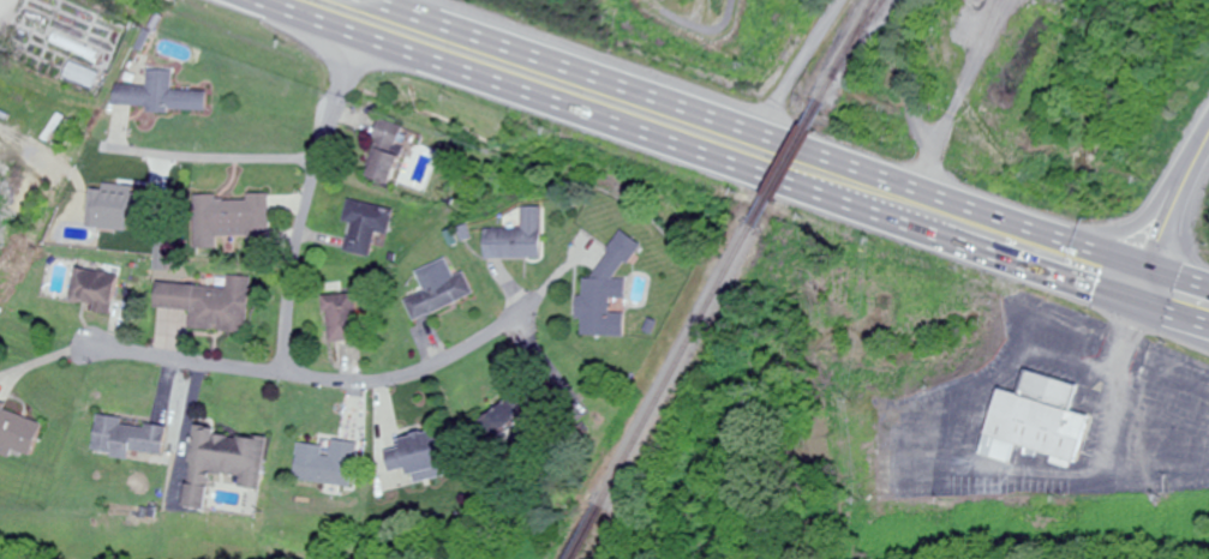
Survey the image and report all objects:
building: (980, 4)
road: (400, 6)
road: (1, 16)
road: (702, 23)
railway: (868, 31)
railway: (852, 50)
road: (800, 64)
building: (85, 77)
building: (164, 97)
building: (18, 103)
road: (789, 142)
building: (390, 155)
road: (211, 156)
road: (734, 164)
railway: (792, 164)
road: (310, 203)
road: (1168, 215)
building: (240, 220)
building: (371, 227)
building: (522, 239)
traffic signals: (1154, 271)
building: (100, 290)
building: (612, 291)
building: (443, 293)
building: (210, 301)
traffic signals: (1143, 309)
building: (348, 318)
road: (1175, 327)
road: (184, 360)
road: (447, 361)
railway: (684, 366)
building: (520, 416)
building: (1049, 431)
building: (22, 432)
building: (139, 439)
building: (429, 457)
building: (231, 462)
building: (335, 463)
road: (1009, 479)
railway: (594, 533)

